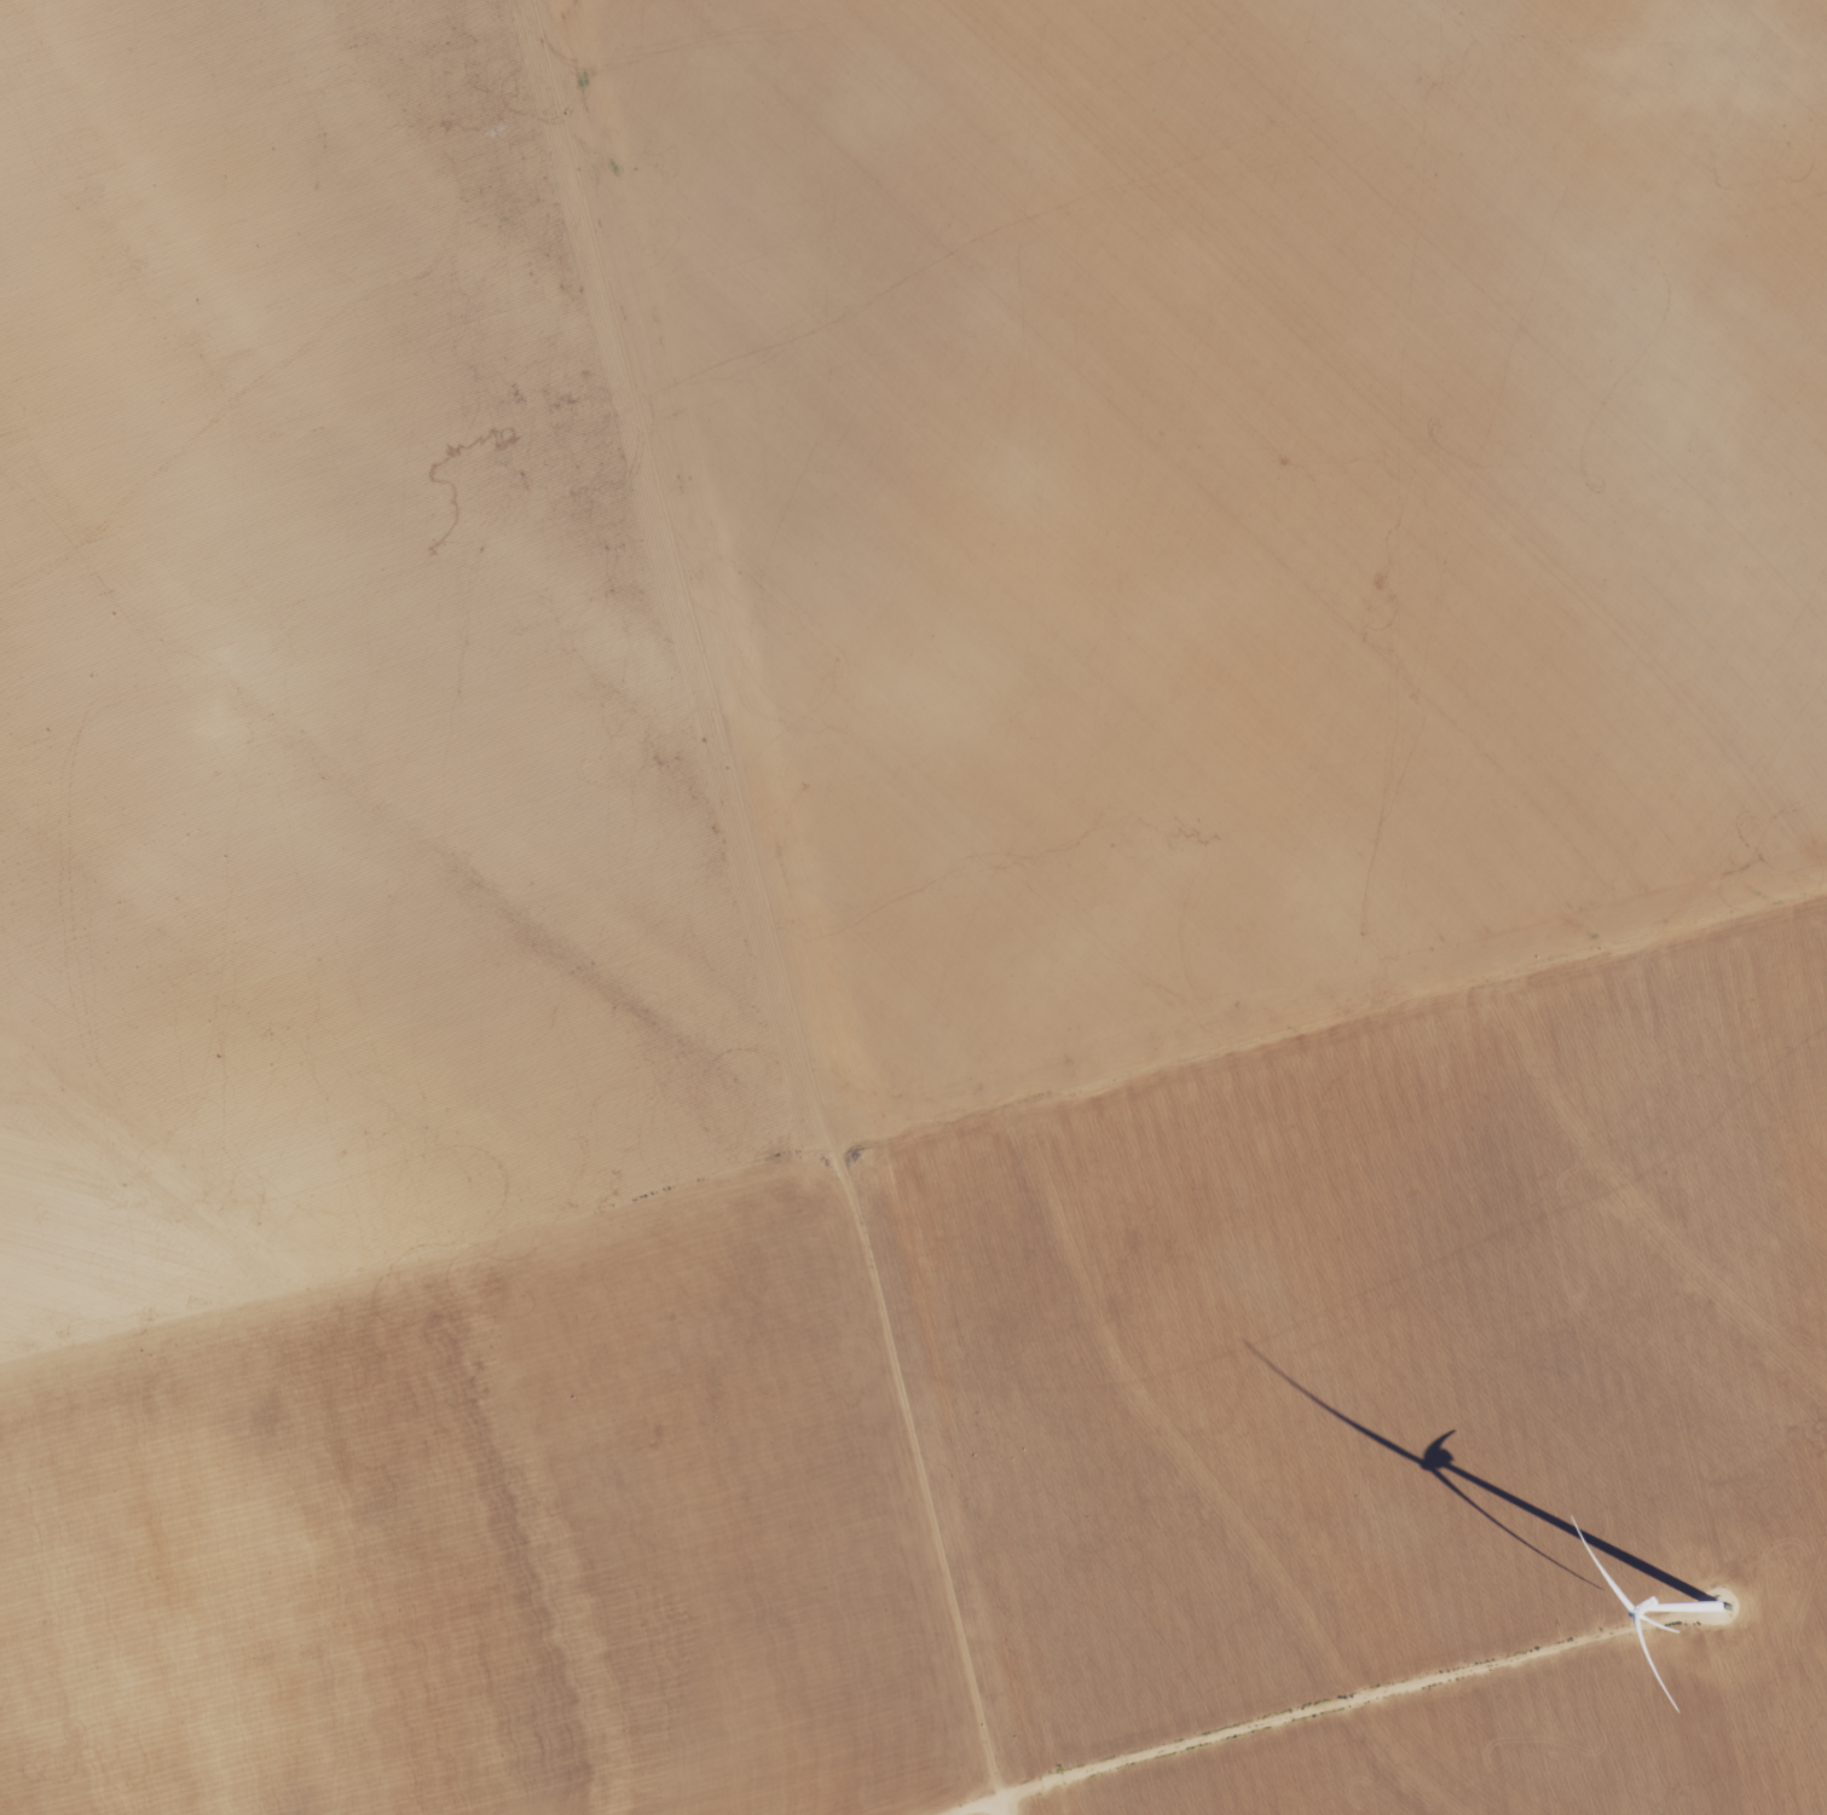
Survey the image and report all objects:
wind turbine: (1717, 1605)

